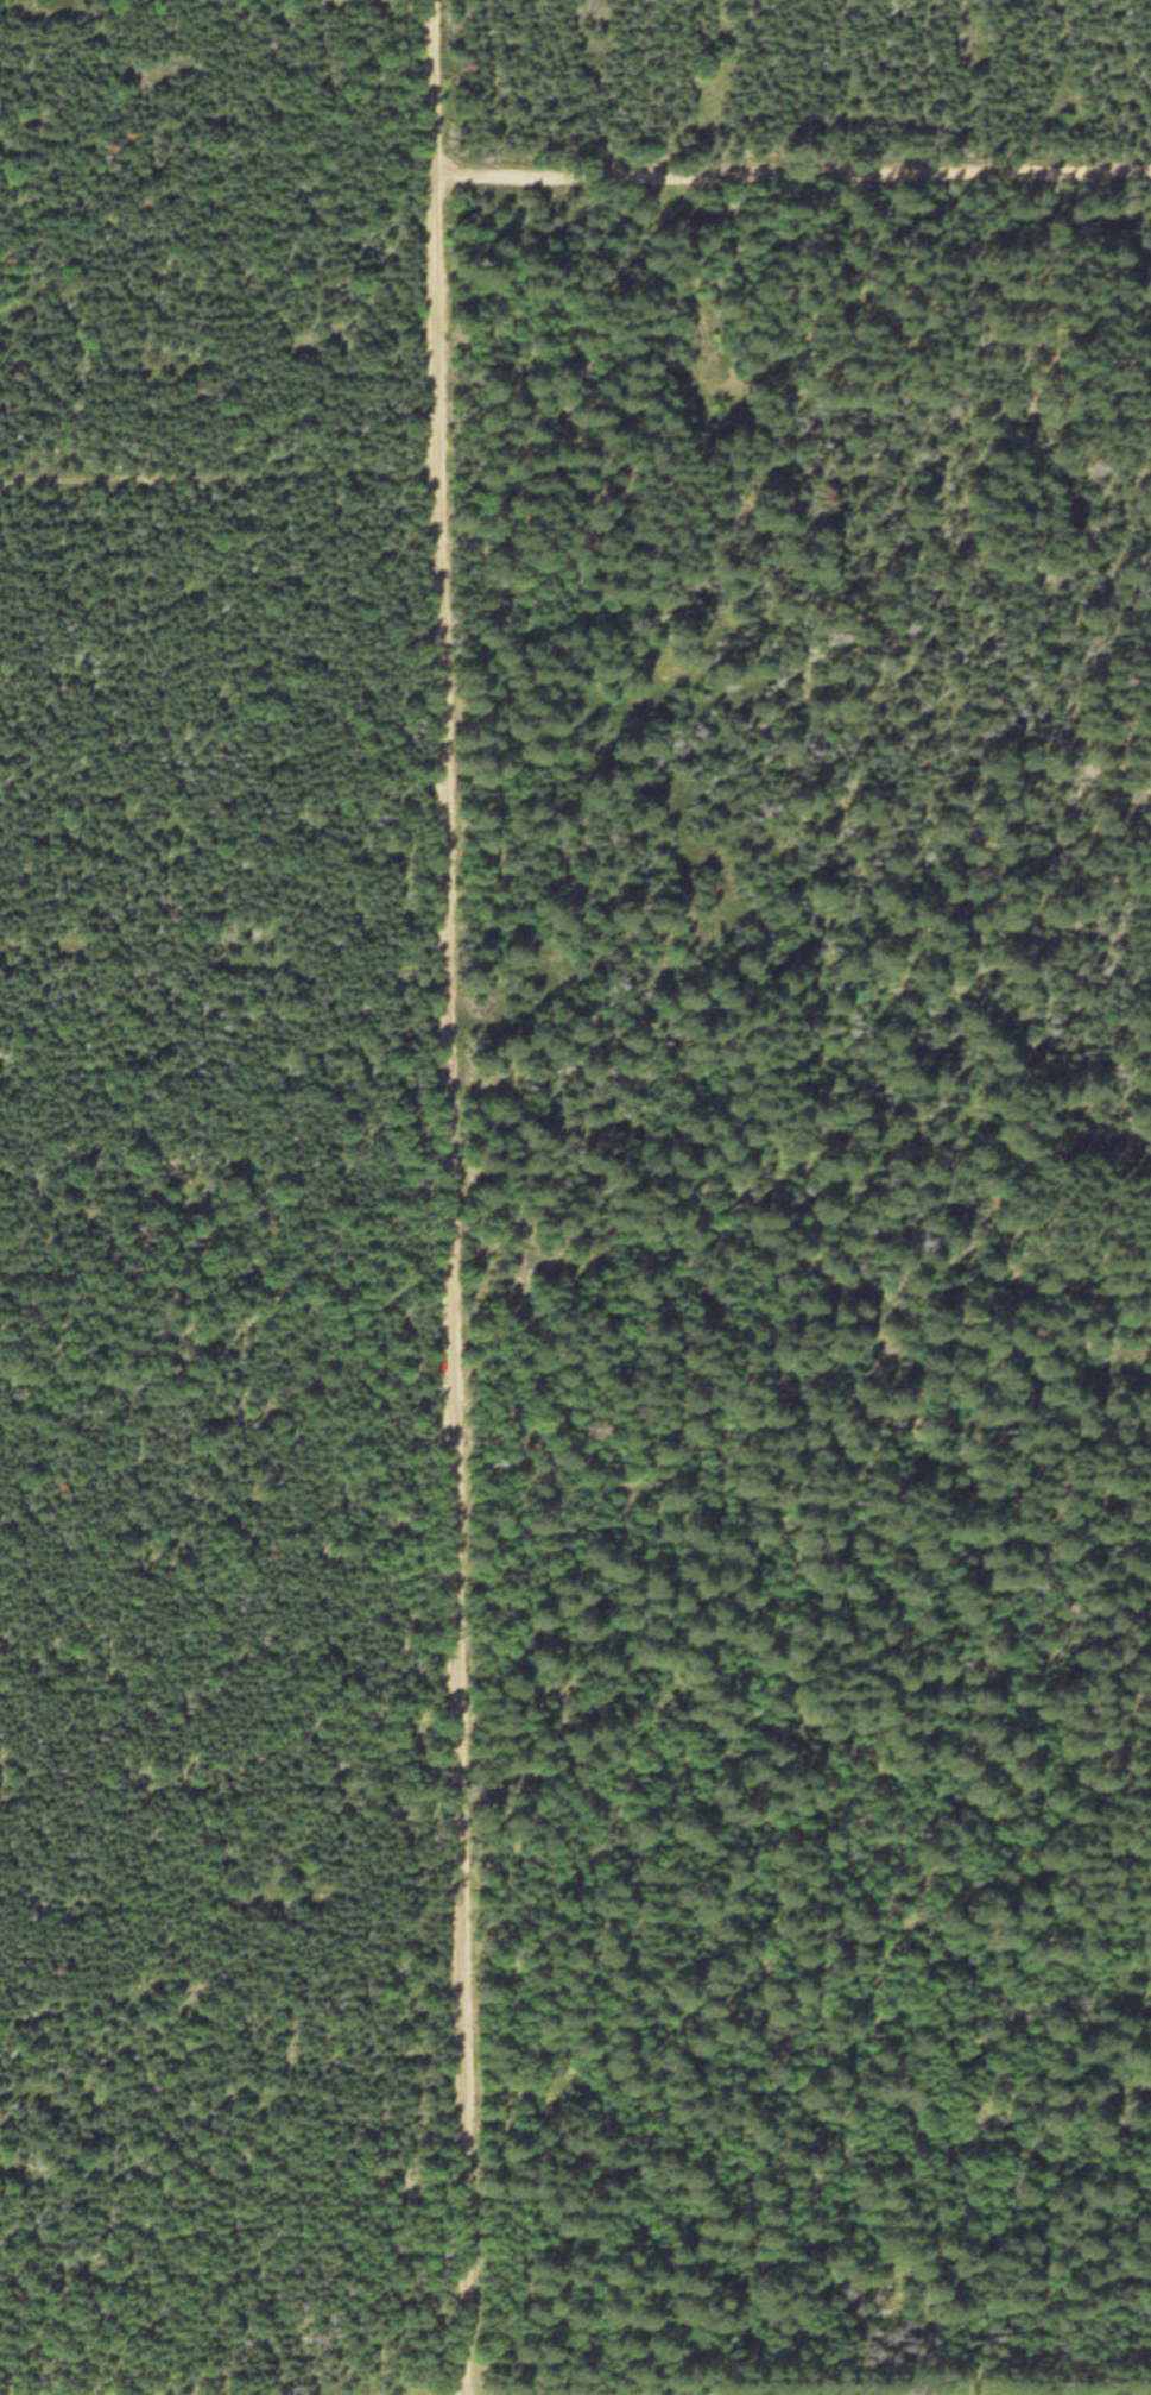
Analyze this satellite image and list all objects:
road: (795, 179)
road: (219, 496)
road: (454, 1197)

